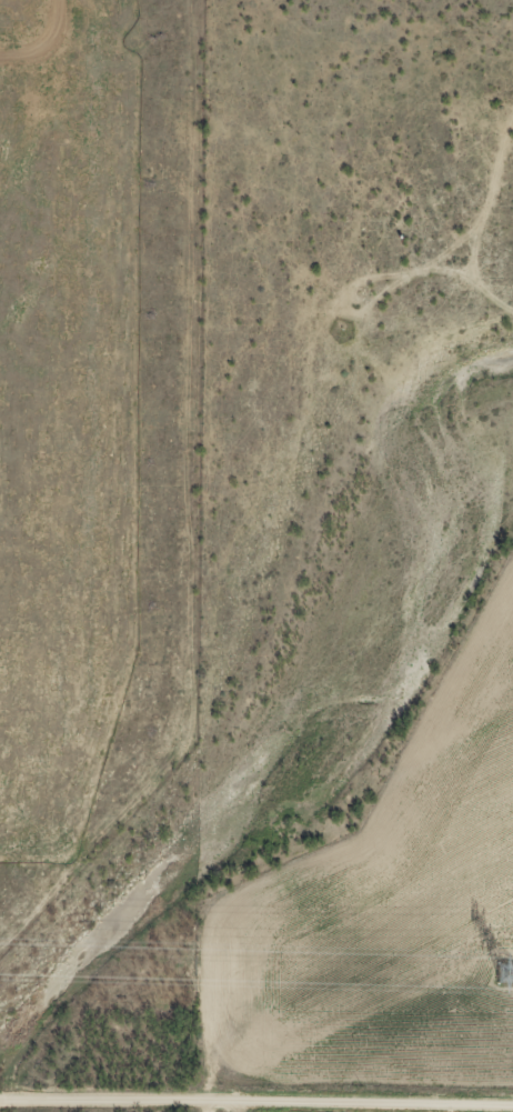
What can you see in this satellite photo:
power tower: (506, 973)
road: (256, 1092)
crop: (320, 1109)

